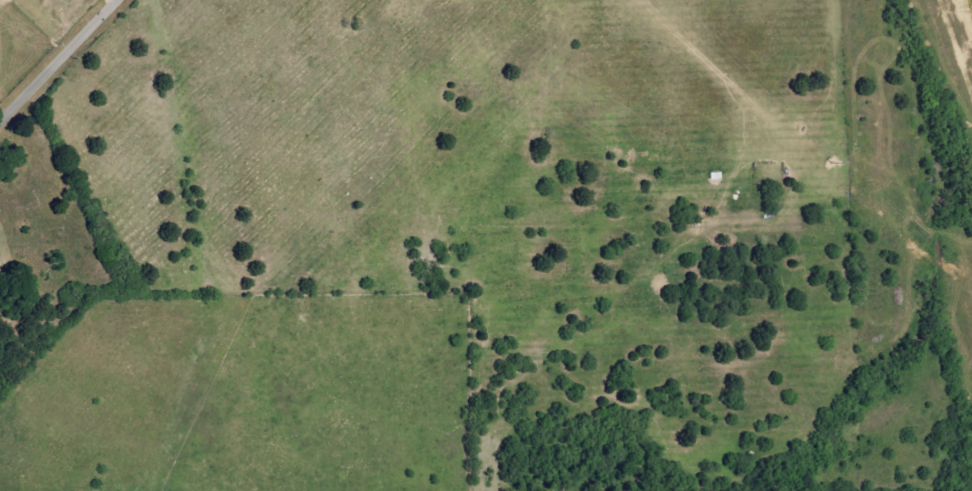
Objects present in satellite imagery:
road: (57, 59)
power tower: (823, 158)
park: (48, 225)

